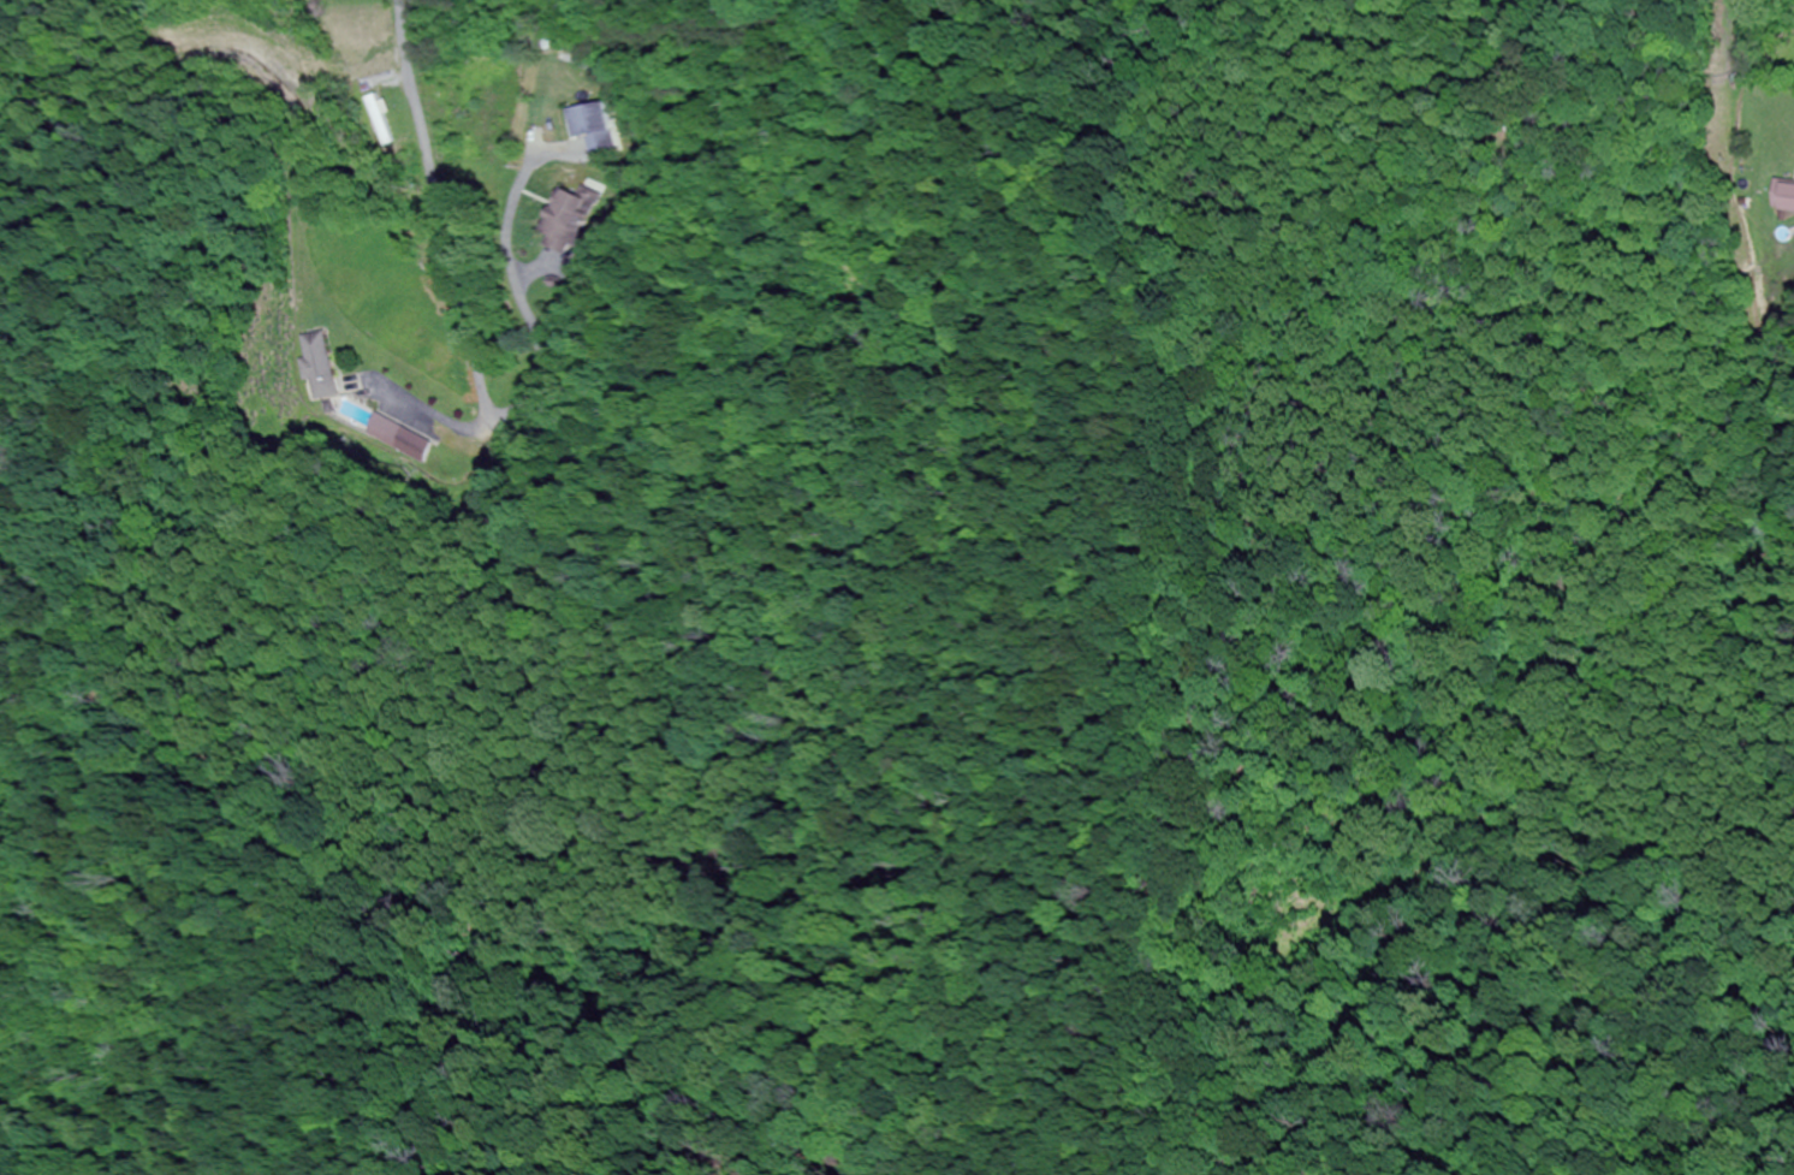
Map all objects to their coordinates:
building: (351, 47)
building: (379, 121)
building: (592, 127)
building: (1783, 197)
road: (438, 208)
building: (568, 220)
building: (317, 367)
building: (384, 429)

